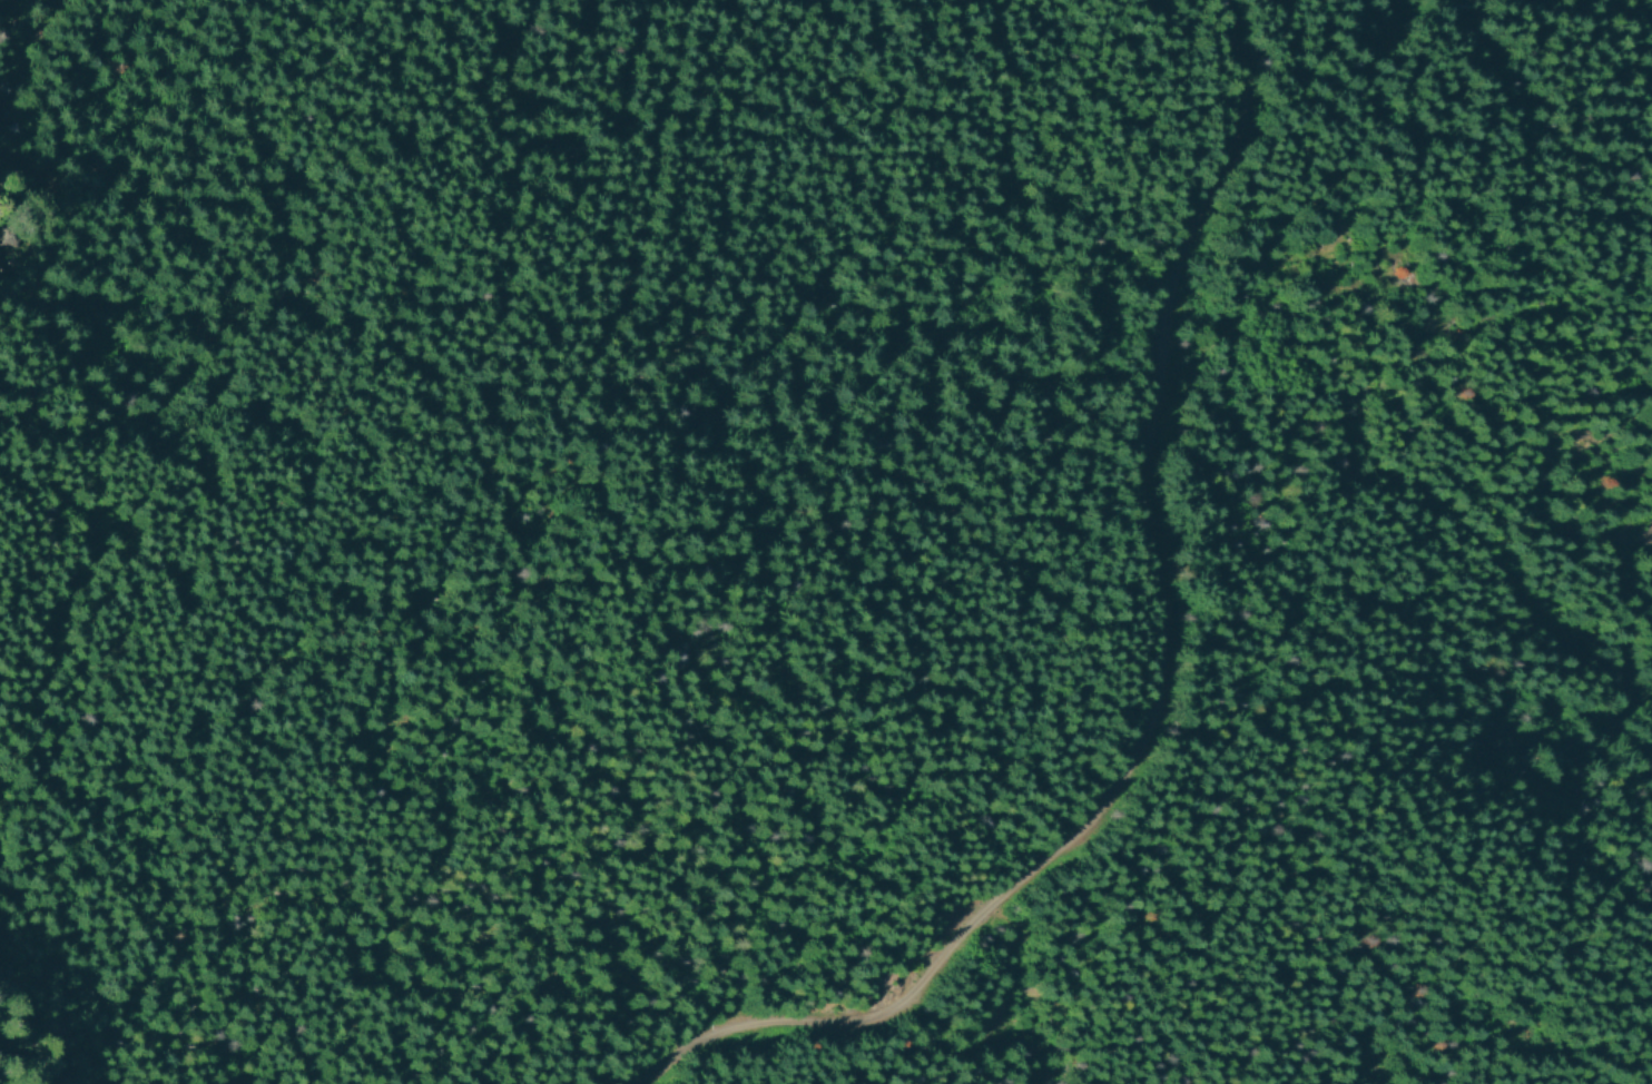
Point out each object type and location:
road: (1154, 671)

